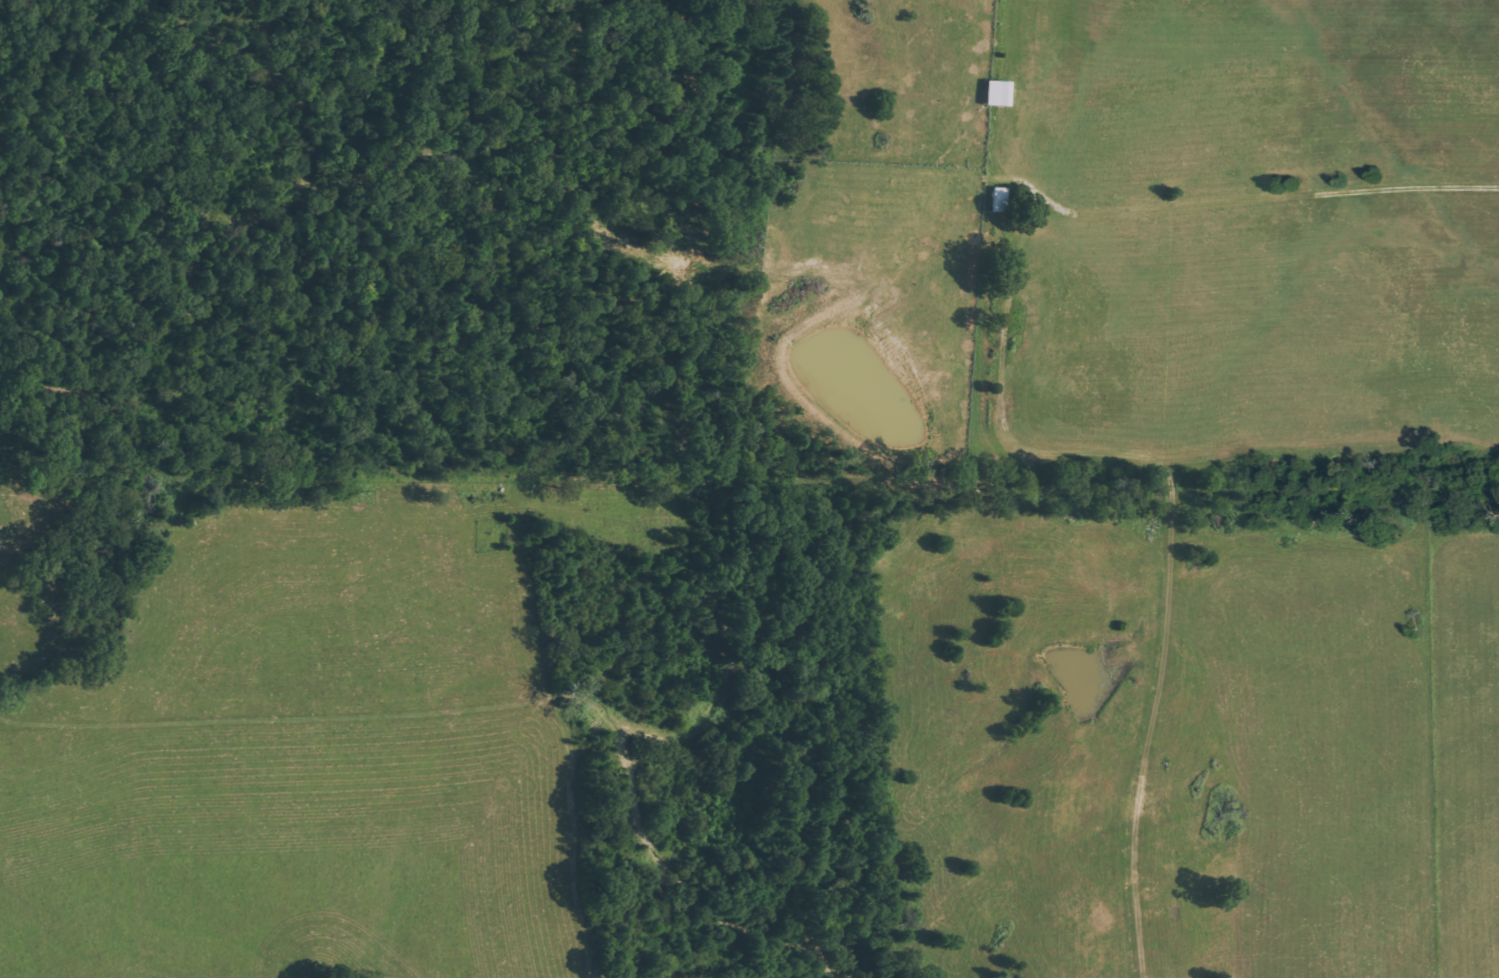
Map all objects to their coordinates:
building: (1001, 93)
building: (1003, 200)

